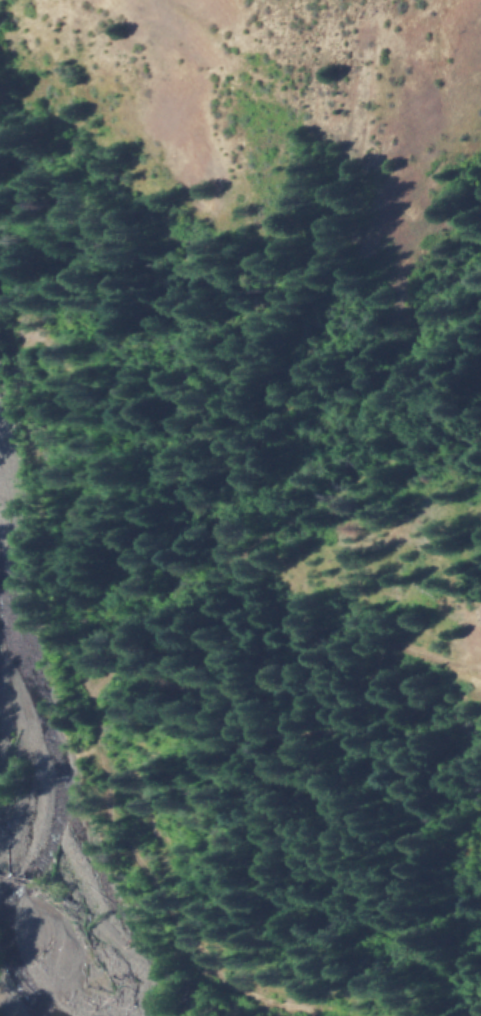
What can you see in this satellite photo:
river: (69, 802)

